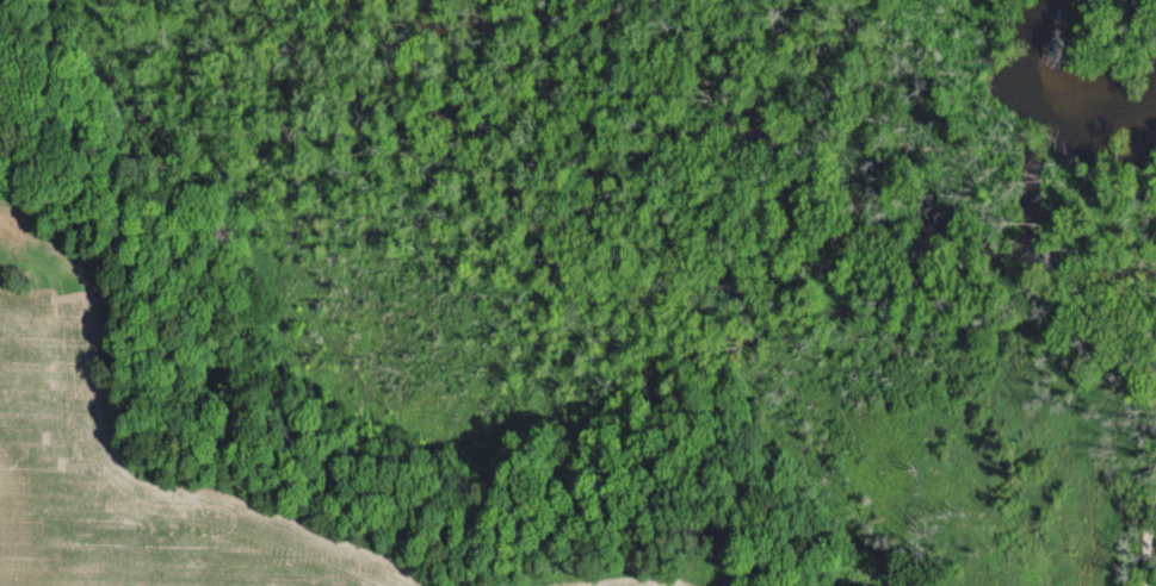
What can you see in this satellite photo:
river: (1055, 99)

